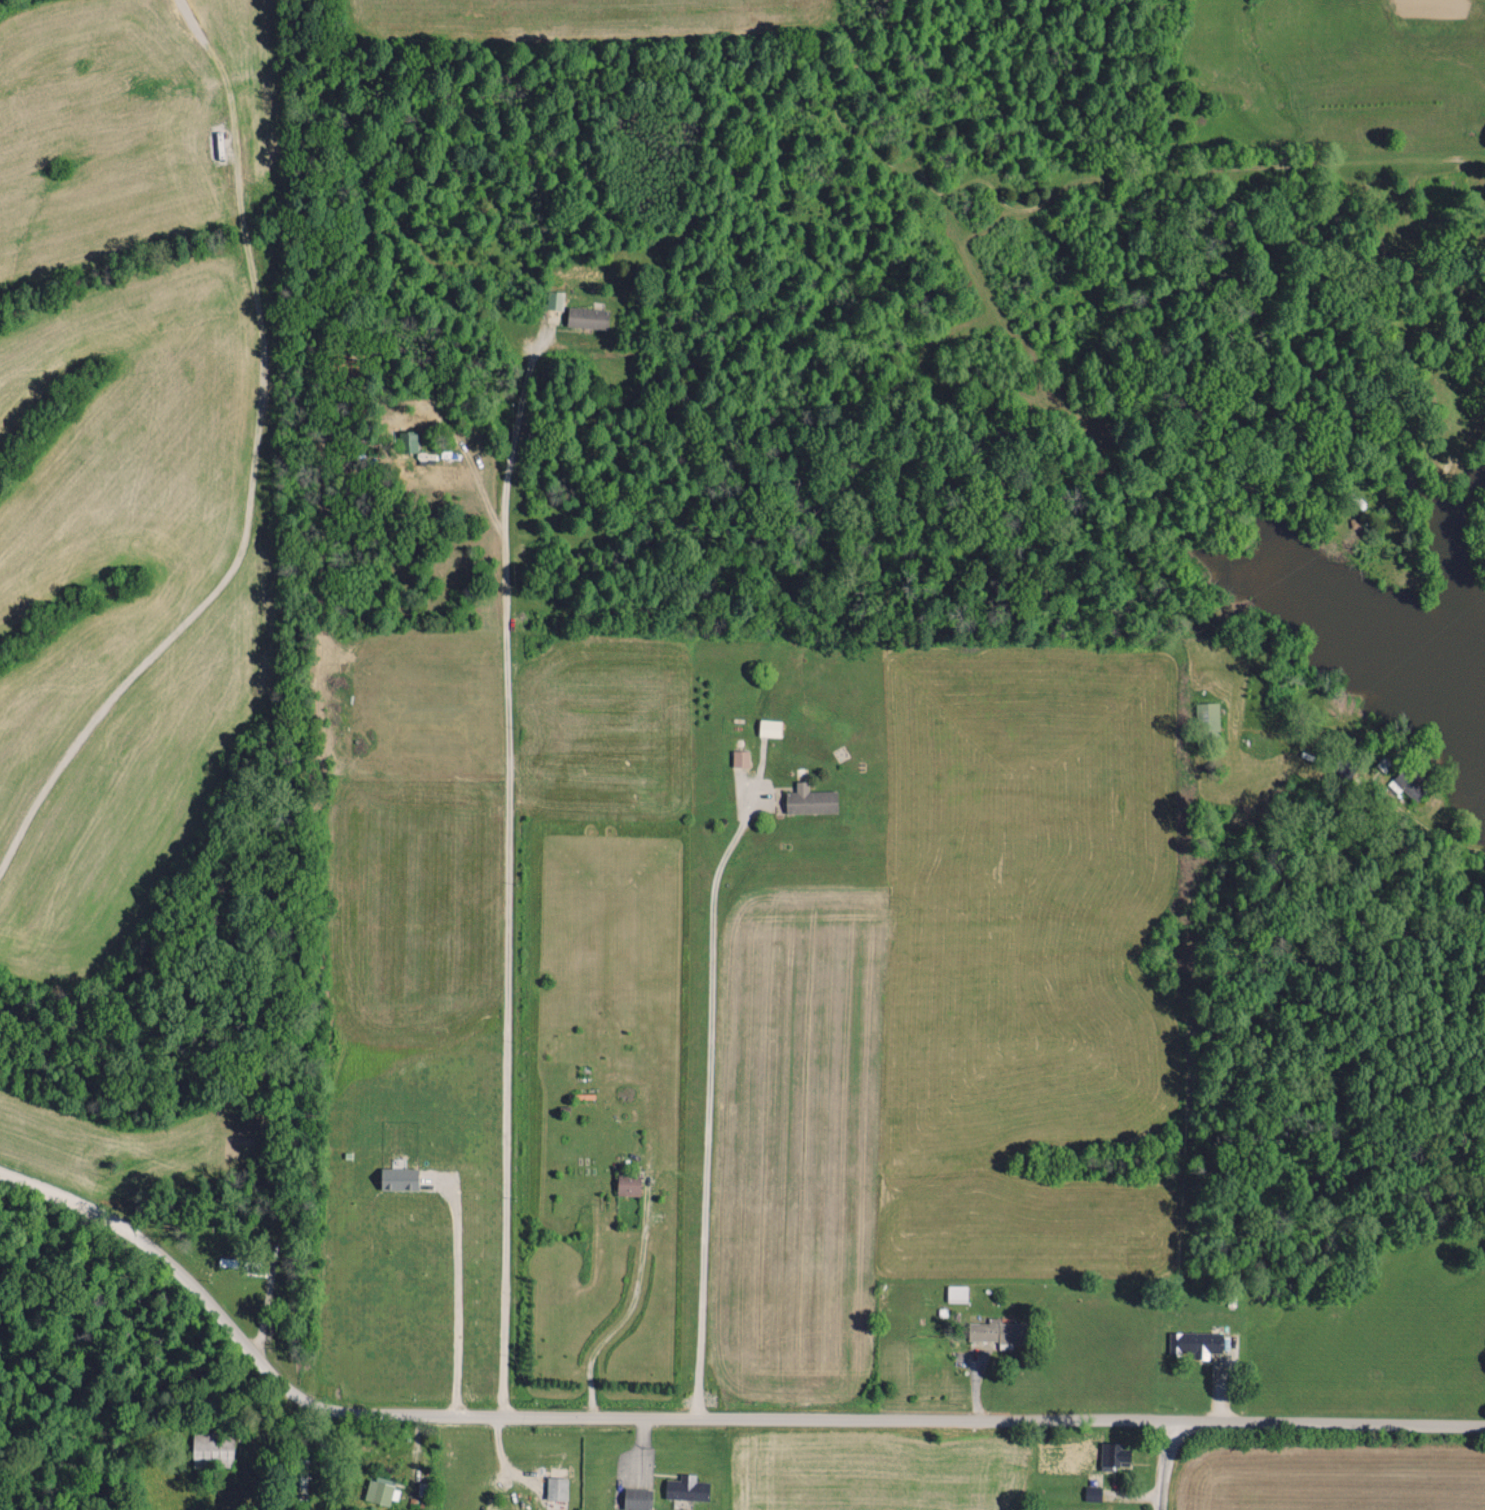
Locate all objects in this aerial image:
building: (586, 317)
building: (407, 442)
building: (1208, 716)
building: (769, 727)
building: (740, 758)
building: (1405, 785)
building: (810, 801)
road: (504, 872)
road: (705, 1105)
building: (398, 1178)
building: (627, 1184)
building: (956, 1293)
road: (456, 1300)
building: (995, 1331)
building: (1195, 1343)
road: (699, 1422)
building: (1113, 1455)
road: (1152, 1471)
building: (555, 1487)
building: (685, 1487)
building: (380, 1491)
building: (1092, 1493)
building: (636, 1498)

